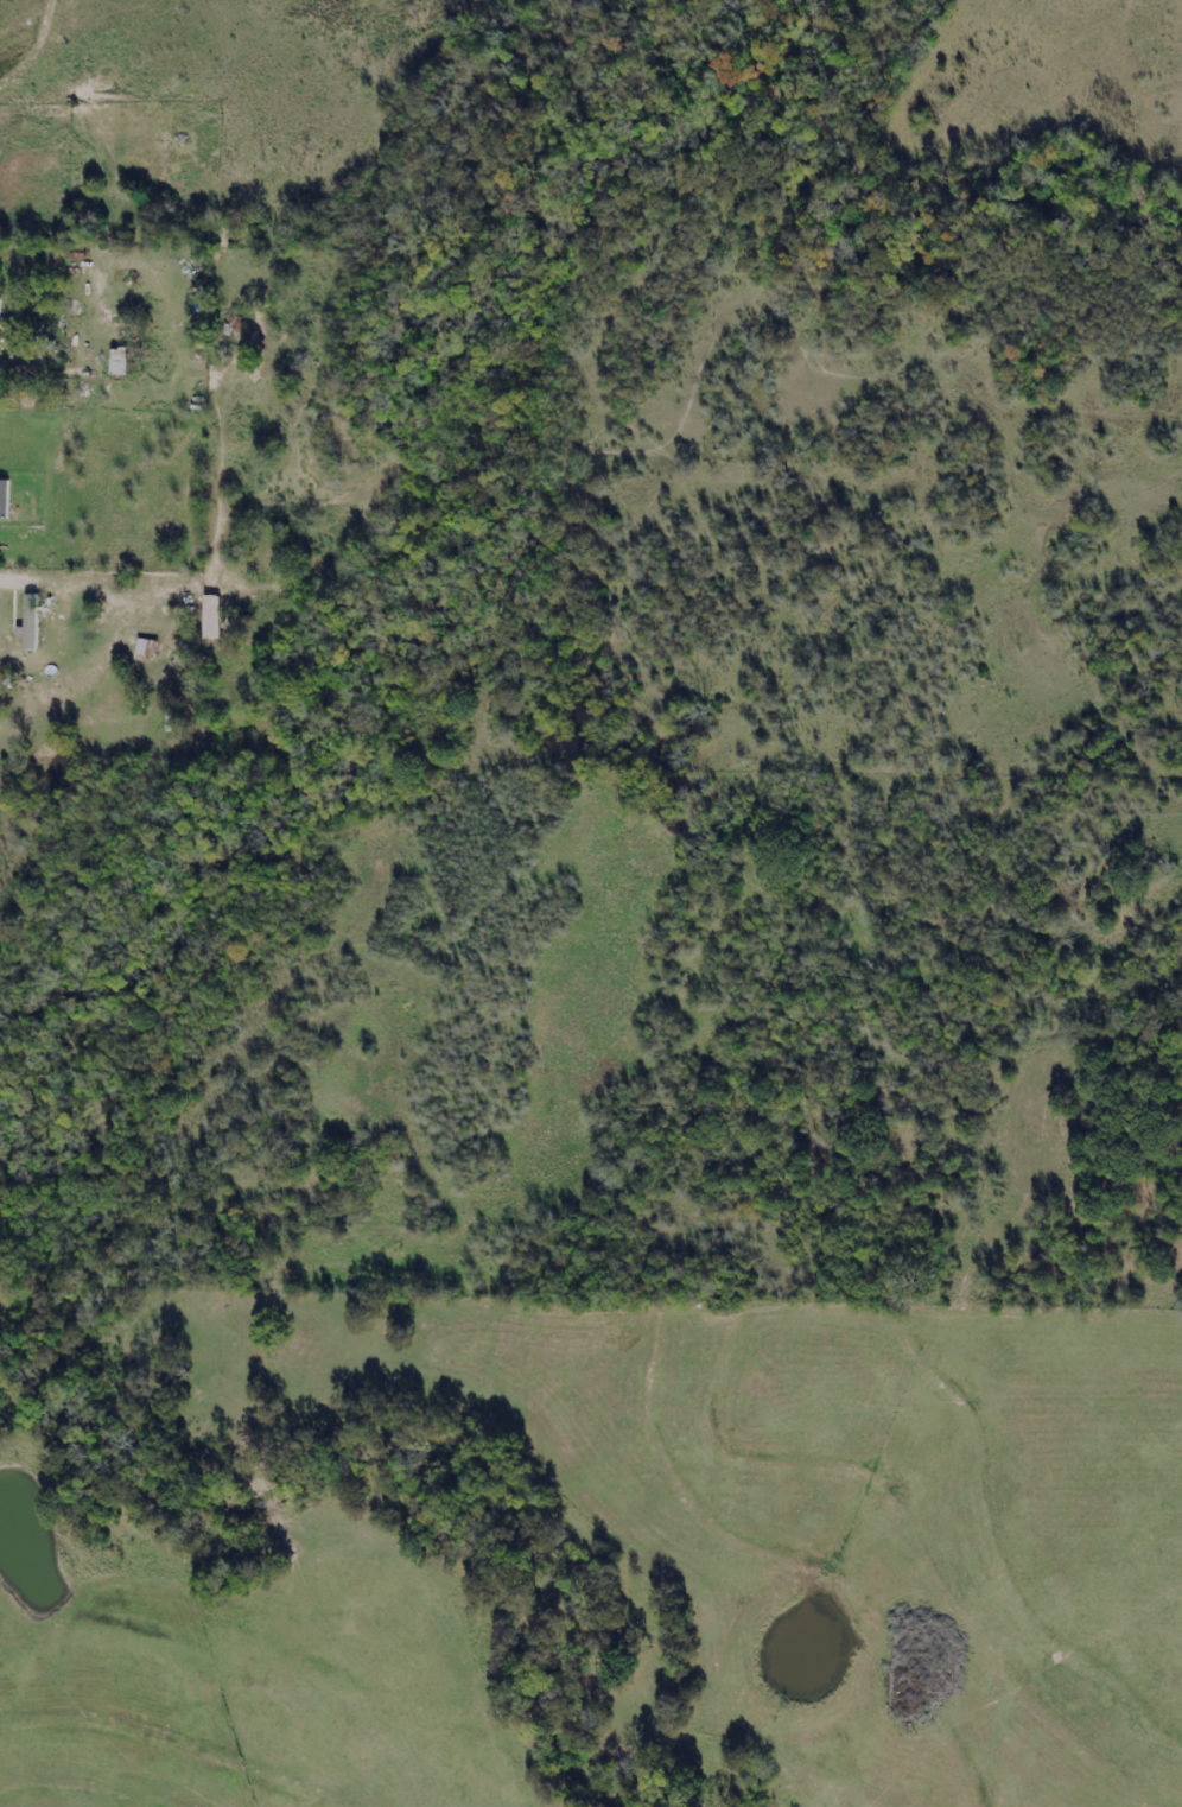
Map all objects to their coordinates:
building: (0, 319)
building: (231, 328)
building: (116, 364)
building: (5, 497)
building: (33, 621)
building: (26, 623)
building: (139, 648)

